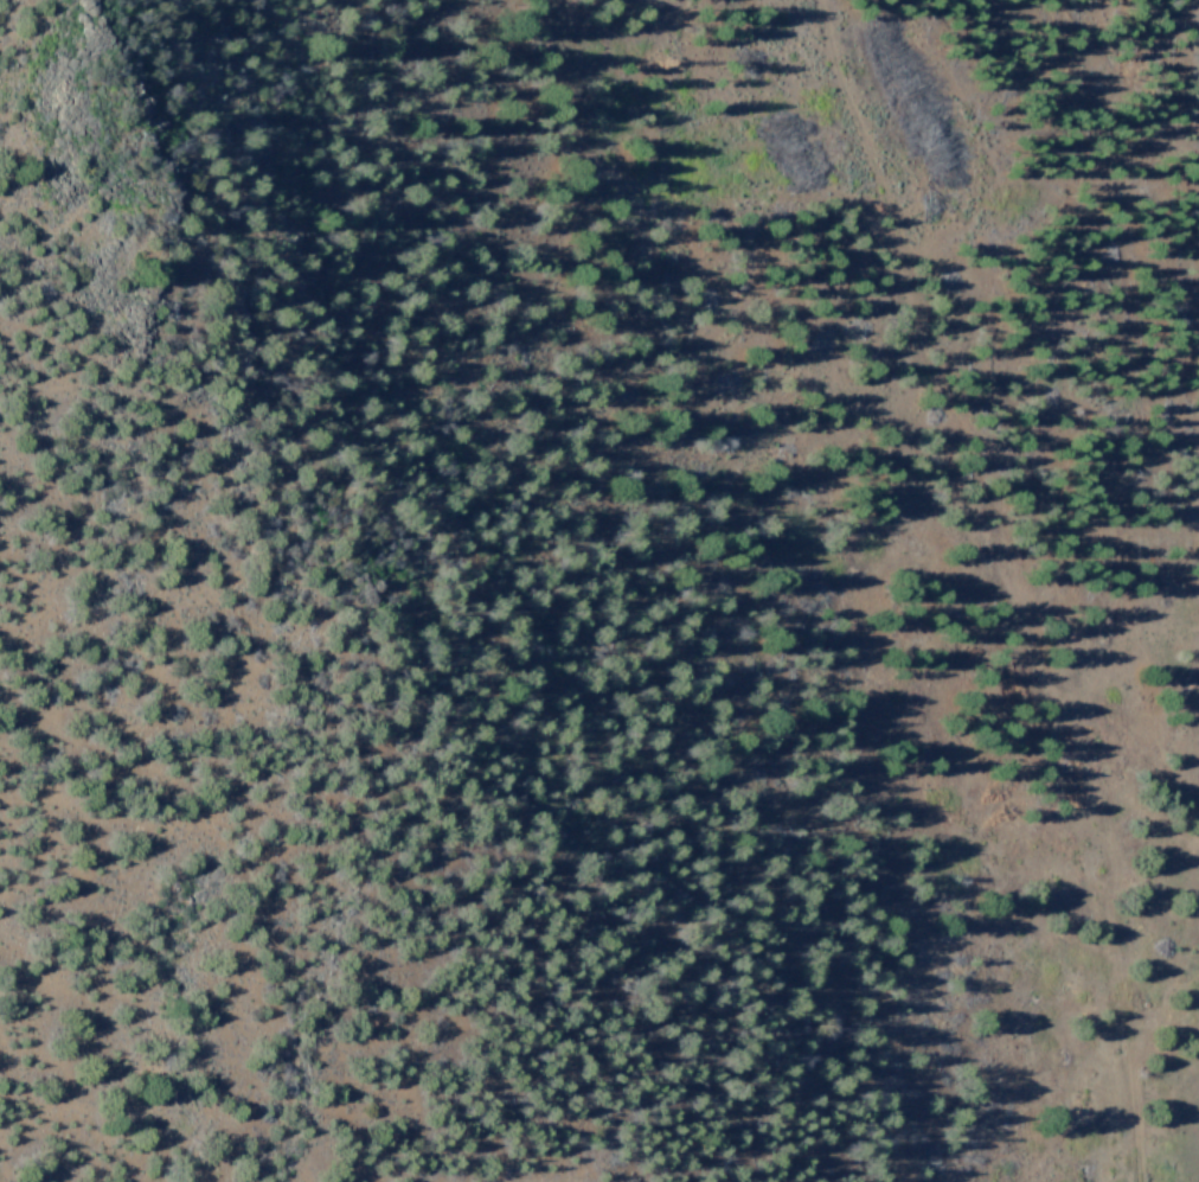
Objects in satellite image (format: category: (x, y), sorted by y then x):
road: (1136, 1135)

